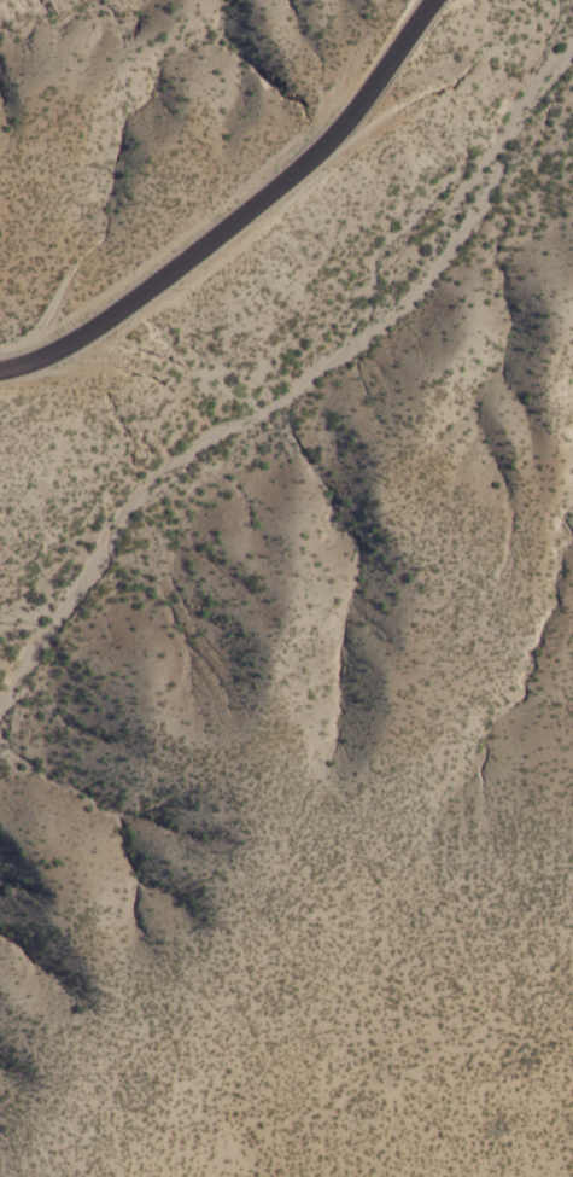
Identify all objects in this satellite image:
road: (247, 218)

